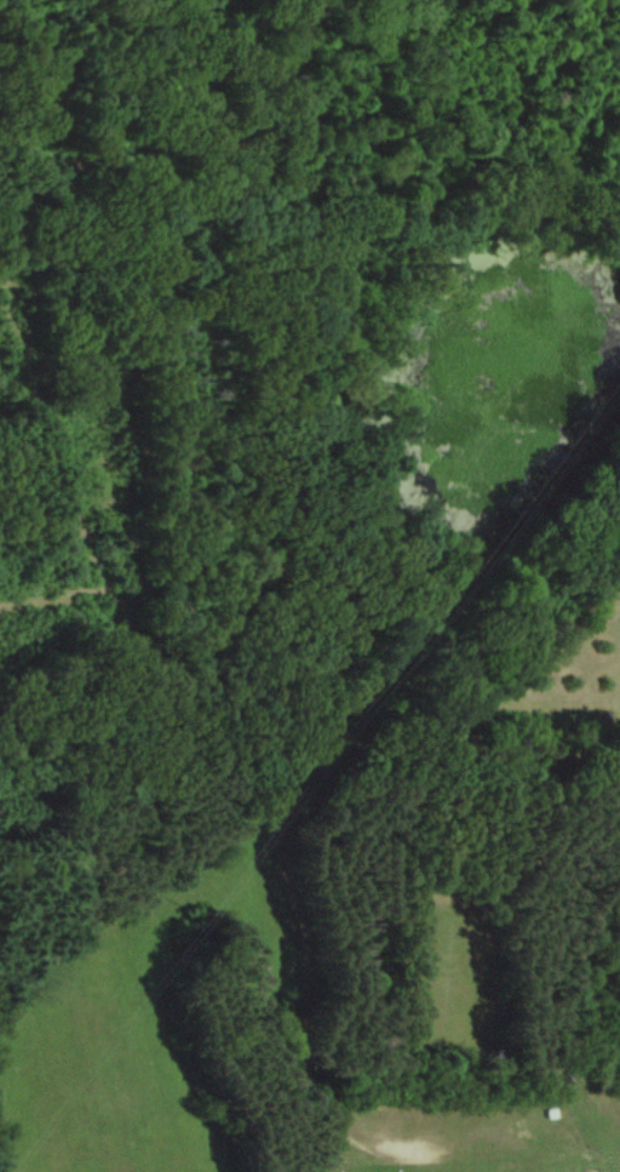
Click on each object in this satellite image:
park: (602, 80)
park: (310, 166)

